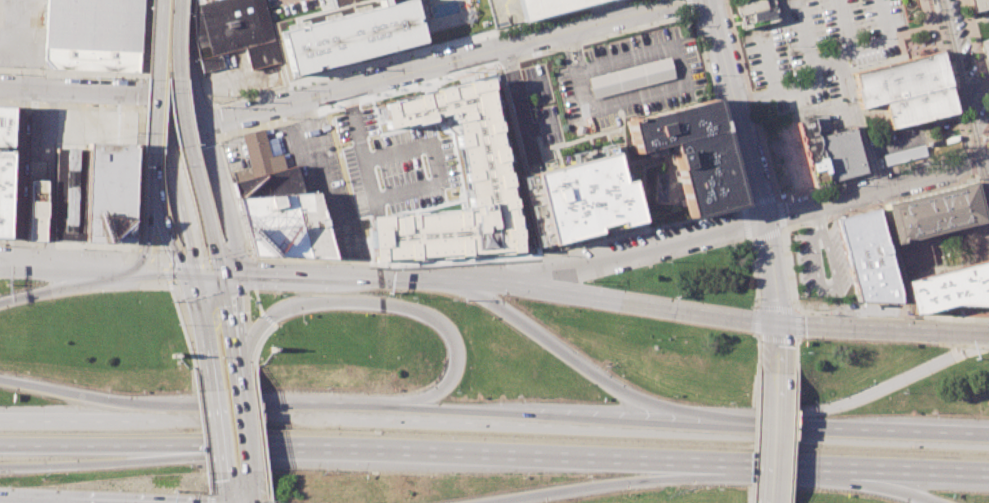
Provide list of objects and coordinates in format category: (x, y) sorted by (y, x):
building: (199, 1)
parking lot: (738, 1)
building: (979, 4)
road: (690, 5)
building: (546, 6)
road: (964, 9)
railway: (935, 11)
road: (171, 12)
building: (504, 12)
parking garage: (504, 12)
building: (755, 13)
road: (932, 13)
road: (551, 15)
road: (967, 17)
road: (941, 24)
building: (229, 25)
road: (841, 26)
building: (93, 34)
building: (345, 35)
road: (869, 44)
parking lot: (816, 48)
road: (577, 51)
building: (985, 51)
road: (901, 52)
building: (262, 53)
road: (566, 55)
road: (170, 60)
road: (850, 61)
building: (211, 62)
road: (448, 63)
road: (978, 63)
road: (768, 65)
road: (184, 69)
parking lot: (988, 73)
road: (157, 75)
building: (630, 77)
parking lot: (631, 78)
building: (899, 79)
road: (961, 79)
road: (681, 80)
road: (817, 83)
road: (84, 91)
railway: (964, 98)
road: (751, 99)
road: (518, 102)
road: (184, 104)
parking lot: (543, 104)
building: (918, 106)
road: (718, 108)
parking lot: (828, 113)
road: (182, 120)
road: (858, 121)
road: (962, 127)
parking lot: (899, 143)
road: (892, 145)
building: (812, 151)
building: (837, 151)
building: (691, 152)
building: (260, 154)
building: (904, 155)
road: (985, 157)
traffic signals: (982, 158)
road: (748, 161)
parking lot: (789, 163)
building: (4, 166)
building: (448, 169)
road: (985, 170)
road: (154, 171)
road: (49, 179)
parking lot: (321, 179)
building: (269, 184)
road: (178, 185)
road: (872, 188)
road: (327, 189)
building: (110, 191)
building: (70, 193)
road: (220, 194)
building: (530, 197)
building: (584, 197)
building: (36, 210)
building: (931, 212)
road: (839, 214)
road: (813, 216)
building: (285, 225)
road: (166, 233)
road: (148, 236)
road: (764, 236)
road: (613, 238)
railway: (371, 239)
road: (628, 254)
road: (218, 256)
building: (865, 256)
building: (911, 256)
road: (149, 257)
parking lot: (819, 262)
road: (204, 264)
road: (63, 270)
road: (155, 274)
traffic signals: (183, 275)
road: (202, 276)
traffic signals: (222, 277)
road: (357, 277)
building: (950, 287)
road: (51, 290)
road: (830, 290)
road: (636, 302)
road: (402, 307)
road: (260, 313)
road: (756, 319)
road: (179, 320)
road: (231, 324)
road: (796, 324)
road: (272, 327)
road: (879, 329)
road: (199, 332)
road: (984, 335)
road: (777, 347)
road: (558, 349)
road: (795, 355)
road: (241, 381)
road: (884, 385)
road: (81, 395)
road: (416, 415)
road: (81, 417)
road: (728, 427)
road: (202, 429)
road: (220, 432)
road: (887, 432)
road: (259, 433)
road: (249, 437)
road: (775, 437)
road: (792, 438)
road: (96, 444)
road: (438, 451)
road: (98, 462)
road: (773, 464)
road: (926, 470)
road: (589, 486)
road: (901, 486)
road: (229, 488)
road: (254, 492)
road: (211, 498)
road: (11, 501)
road: (270, 502)

